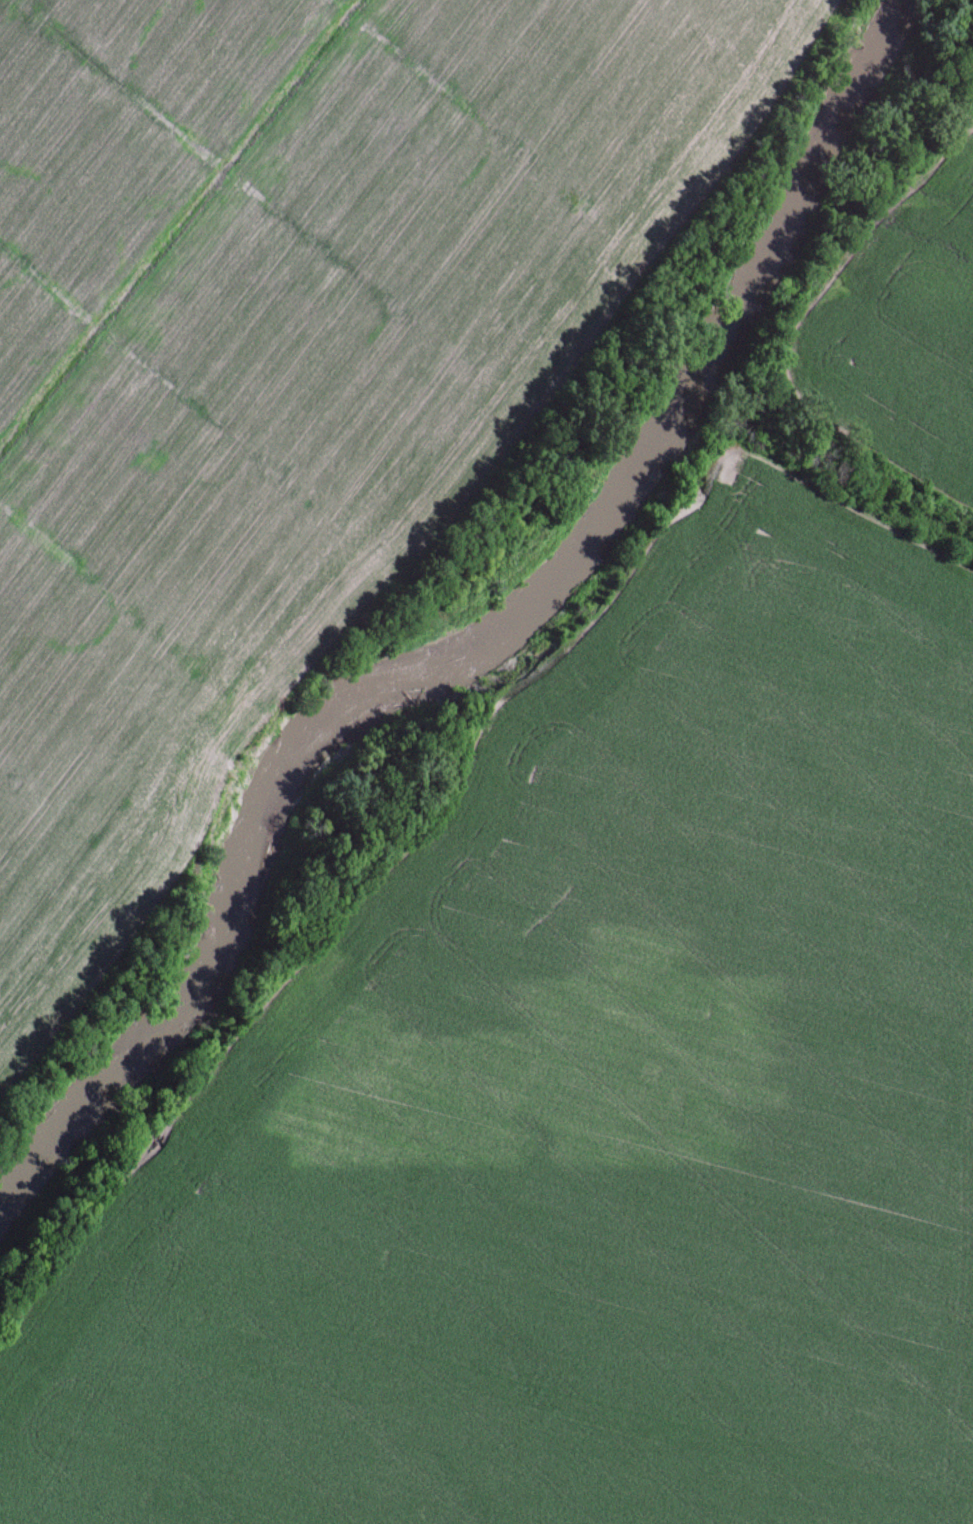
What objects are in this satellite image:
river: (479, 631)

